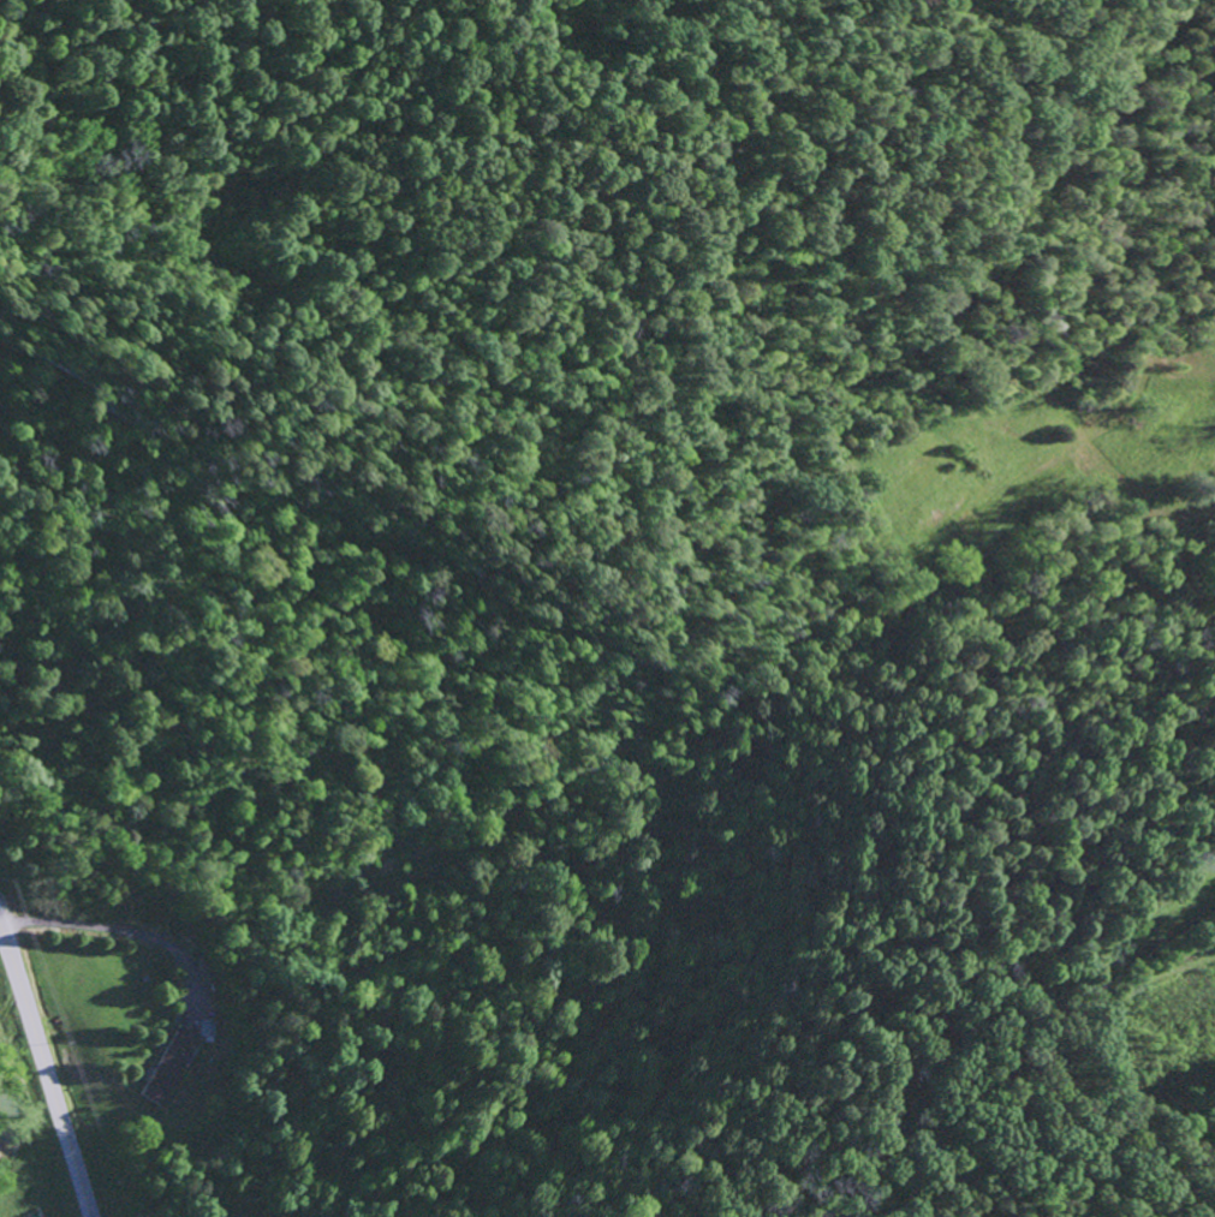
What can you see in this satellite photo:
road: (1106, 408)
road: (595, 901)
building: (167, 1064)
road: (47, 1069)

